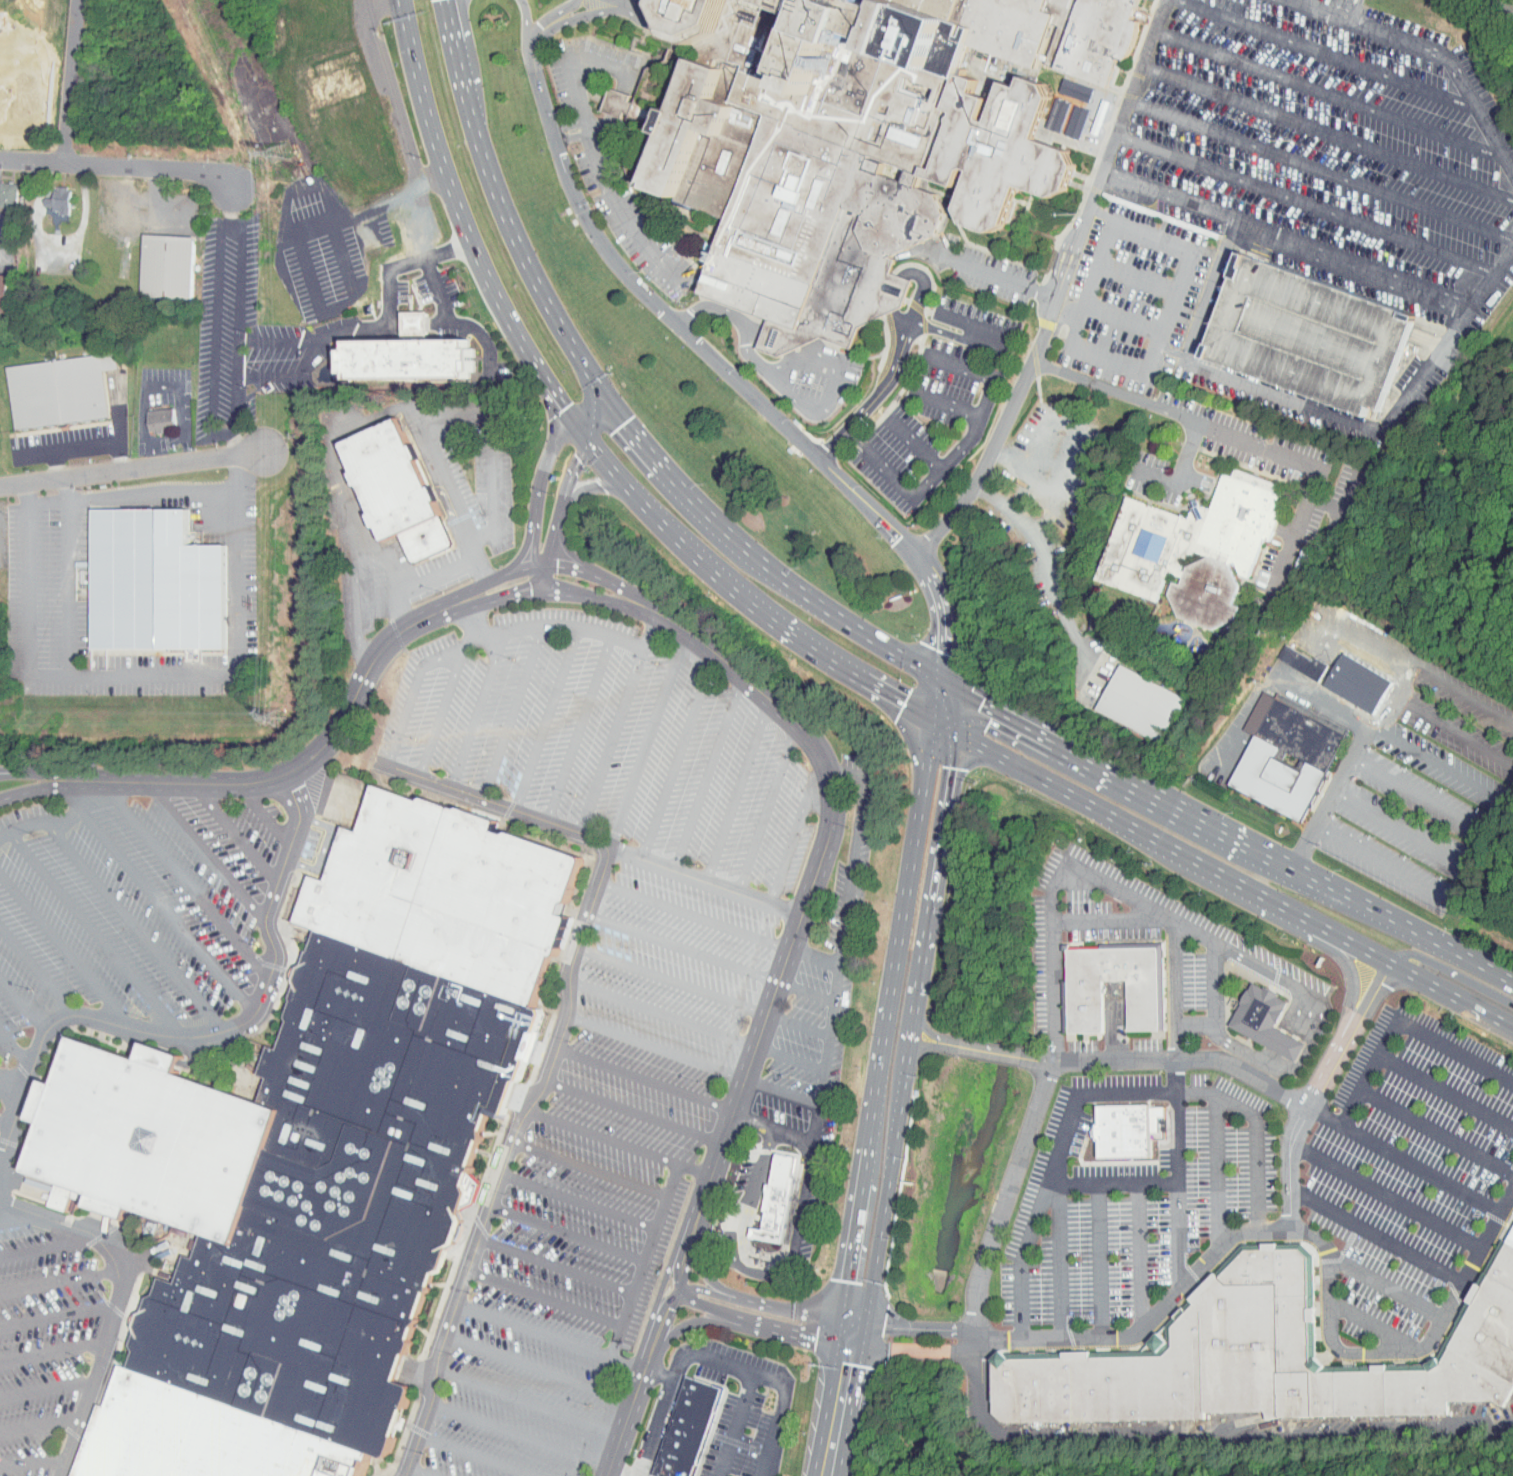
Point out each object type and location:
road: (1306, 3)
road: (1501, 10)
road: (1324, 12)
road: (544, 20)
road: (568, 20)
road: (653, 25)
road: (526, 27)
road: (1325, 53)
road: (566, 66)
road: (1453, 69)
road: (72, 80)
road: (1327, 92)
building: (606, 98)
building: (17, 110)
road: (566, 128)
road: (1327, 133)
road: (570, 137)
building: (861, 139)
power tower: (280, 152)
road: (118, 164)
parking lot: (1283, 168)
road: (1321, 168)
building: (2, 189)
building: (47, 193)
road: (1305, 202)
road: (229, 204)
road: (624, 208)
road: (608, 219)
road: (462, 226)
road: (1152, 236)
road: (1285, 241)
building: (168, 267)
road: (906, 273)
road: (1000, 276)
road: (1137, 277)
road: (1491, 279)
road: (634, 283)
road: (1091, 284)
road: (1056, 286)
building: (6, 292)
road: (1166, 312)
road: (385, 320)
road: (1120, 322)
road: (238, 326)
road: (982, 328)
road: (1056, 328)
road: (350, 330)
road: (214, 336)
building: (1319, 339)
parking garage: (1319, 339)
road: (312, 350)
road: (1168, 354)
building: (406, 358)
road: (1106, 360)
road: (963, 366)
building: (59, 392)
road: (877, 397)
road: (1283, 397)
road: (609, 402)
traffic signals: (563, 405)
road: (954, 405)
building: (149, 413)
road: (447, 416)
road: (595, 417)
building: (163, 420)
traffic signals: (626, 424)
road: (973, 433)
road: (243, 442)
road: (916, 444)
road: (78, 447)
road: (1268, 448)
traffic signals: (574, 454)
road: (1190, 454)
road: (56, 463)
road: (543, 465)
road: (128, 468)
road: (592, 486)
building: (397, 490)
road: (129, 494)
road: (562, 498)
road: (534, 544)
road: (565, 545)
building: (1199, 551)
road: (521, 552)
road: (914, 555)
road: (1046, 564)
road: (519, 570)
road: (69, 575)
road: (603, 579)
building: (153, 583)
road: (417, 583)
road: (565, 584)
road: (518, 588)
road: (467, 593)
road: (516, 595)
road: (744, 596)
road: (627, 607)
road: (471, 622)
road: (672, 622)
road: (566, 627)
road: (1302, 632)
traffic signals: (943, 650)
building: (1290, 655)
road: (150, 675)
building: (1347, 677)
road: (410, 698)
traffic signals: (905, 701)
road: (943, 702)
traffic signals: (983, 704)
building: (1145, 705)
road: (476, 709)
road: (1379, 709)
road: (440, 713)
road: (509, 713)
road: (1346, 713)
power tower: (279, 719)
road: (548, 719)
road: (580, 727)
road: (611, 739)
road: (646, 739)
parking lot: (607, 740)
road: (815, 747)
road: (676, 756)
building: (1291, 758)
road: (303, 762)
road: (1435, 762)
traffic signals: (942, 767)
road: (11, 771)
road: (11, 772)
road: (708, 774)
road: (61, 775)
road: (49, 787)
road: (1506, 787)
road: (736, 790)
road: (330, 794)
road: (8, 796)
road: (498, 803)
road: (1178, 807)
road: (768, 809)
road: (263, 815)
road: (40, 819)
road: (233, 830)
road: (796, 832)
road: (1168, 839)
road: (326, 850)
road: (205, 851)
road: (604, 865)
road: (183, 878)
road: (1058, 879)
road: (705, 881)
road: (1429, 890)
road: (157, 899)
parking lot: (130, 906)
road: (694, 917)
road: (1113, 920)
road: (132, 925)
road: (796, 933)
road: (96, 934)
road: (62, 949)
road: (684, 949)
road: (1446, 950)
road: (814, 959)
road: (36, 971)
road: (1497, 971)
road: (1453, 973)
road: (1497, 977)
road: (673, 981)
road: (1212, 984)
road: (806, 991)
road: (1453, 991)
road: (22, 1005)
building: (1084, 1005)
road: (663, 1013)
building: (1259, 1013)
road: (1401, 1021)
road: (905, 1022)
road: (1318, 1024)
road: (799, 1025)
road: (1193, 1027)
road: (205, 1034)
road: (657, 1048)
road: (16, 1049)
road: (1228, 1053)
road: (790, 1058)
road: (1110, 1062)
road: (749, 1073)
road: (647, 1077)
road: (12, 1081)
road: (1319, 1087)
road: (819, 1089)
road: (782, 1092)
road: (1444, 1092)
road: (10, 1095)
road: (522, 1097)
road: (1175, 1103)
road: (636, 1111)
road: (7, 1118)
road: (748, 1121)
building: (1125, 1131)
road: (1435, 1131)
road: (1256, 1132)
road: (786, 1133)
road: (620, 1143)
building: (315, 1152)
road: (1, 1153)
road: (1402, 1160)
road: (1051, 1168)
road: (590, 1169)
road: (1217, 1172)
road: (501, 1173)
parking lot: (600, 1179)
road: (1112, 1181)
road: (25, 1185)
building: (765, 1195)
building: (777, 1198)
road: (1386, 1198)
road: (1006, 1199)
road: (579, 1201)
road: (70, 1211)
road: (19, 1218)
road: (568, 1233)
road: (1377, 1236)
road: (694, 1238)
road: (1317, 1239)
building: (1511, 1239)
road: (684, 1243)
road: (47, 1246)
road: (157, 1251)
road: (1139, 1253)
road: (699, 1254)
road: (1060, 1259)
road: (1098, 1259)
road: (645, 1261)
road: (557, 1264)
road: (664, 1278)
road: (58, 1280)
road: (1382, 1283)
road: (680, 1287)
road: (707, 1291)
road: (546, 1297)
road: (114, 1304)
road: (712, 1310)
road: (792, 1310)
road: (56, 1320)
road: (735, 1322)
traffic signals: (851, 1322)
road: (1374, 1324)
road: (654, 1326)
road: (914, 1327)
road: (661, 1330)
road: (848, 1334)
road: (550, 1335)
parking lot: (43, 1339)
traffic signals: (846, 1346)
road: (912, 1350)
road: (52, 1351)
road: (716, 1358)
building: (1261, 1360)
road: (538, 1368)
road: (657, 1373)
road: (416, 1377)
road: (47, 1387)
road: (528, 1400)
road: (833, 1411)
road: (623, 1422)
road: (40, 1424)
road: (736, 1424)
building: (689, 1428)
road: (1203, 1432)
road: (520, 1433)
road: (478, 1455)
park: (1226, 1460)
road: (33, 1462)
road: (406, 1472)
road: (420, 1472)
road: (614, 1473)

